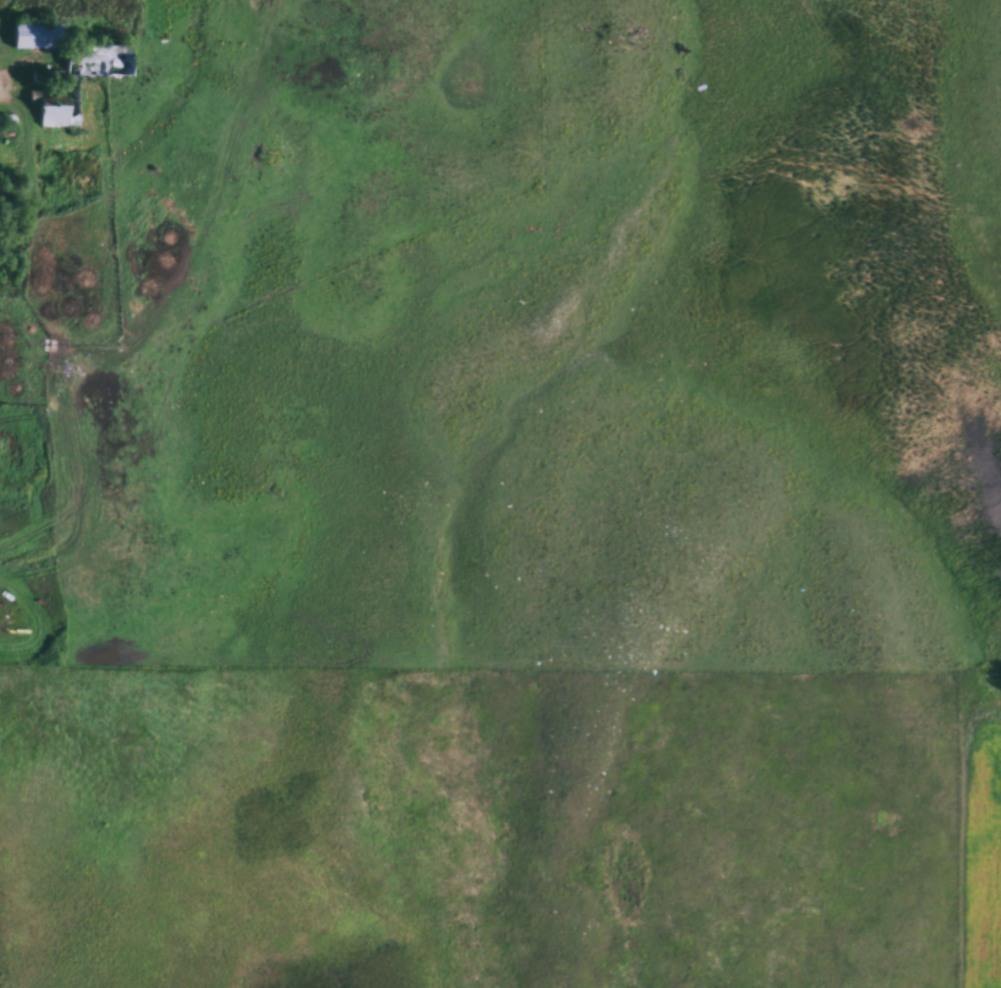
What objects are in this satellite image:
building: (69, 69)
road: (1, 89)
building: (8, 121)

